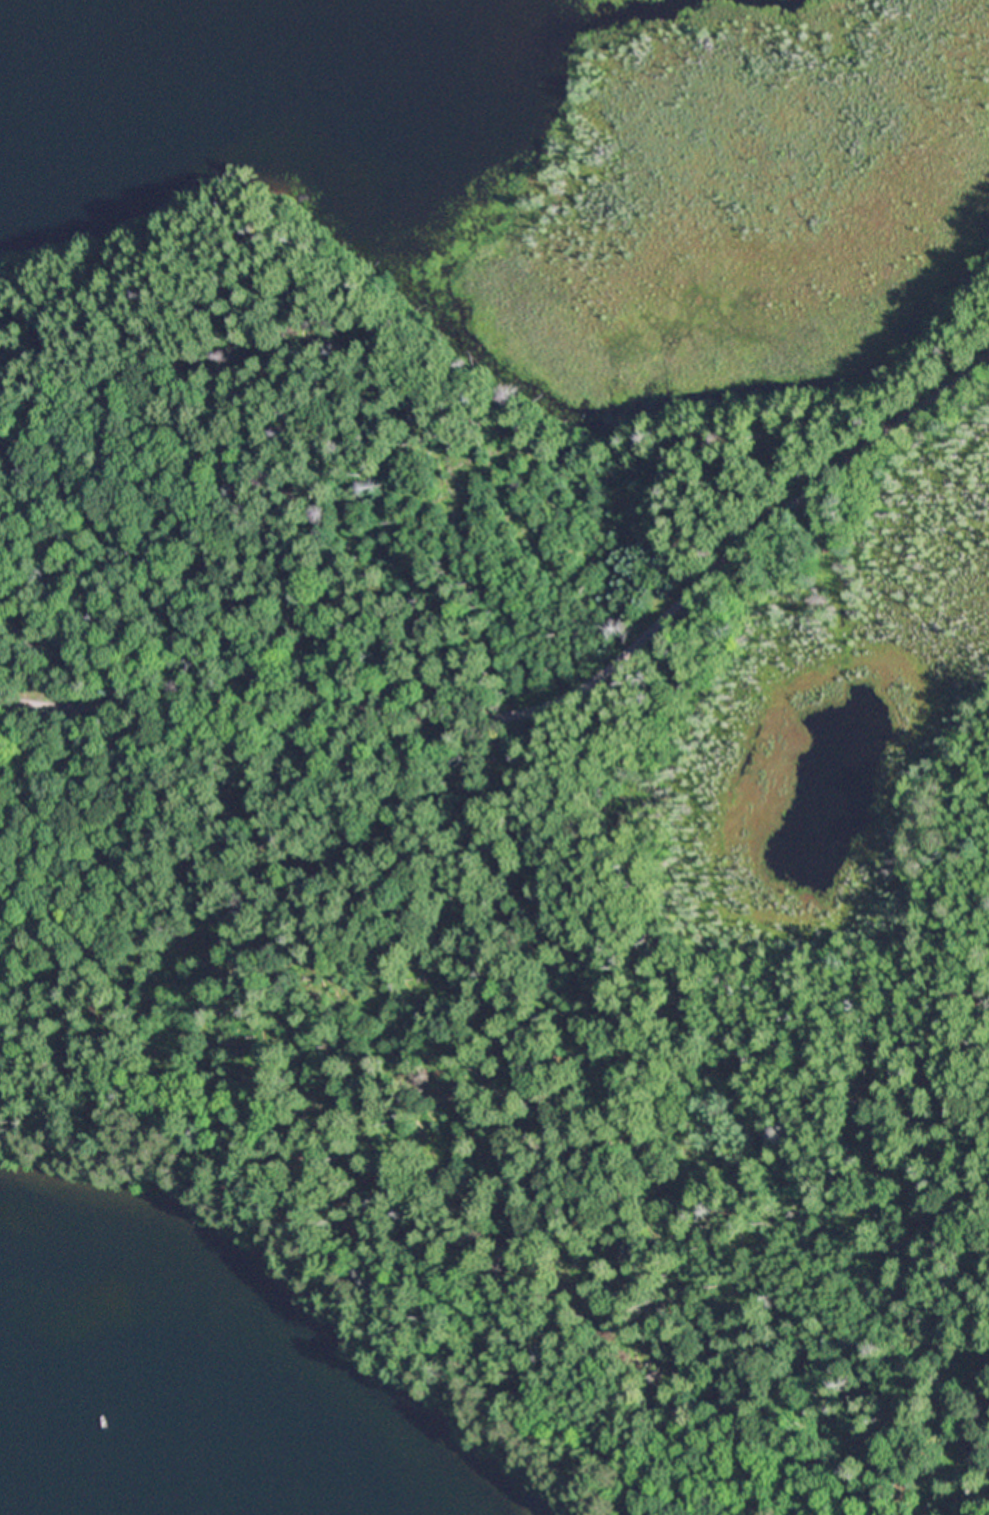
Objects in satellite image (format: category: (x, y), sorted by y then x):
road: (553, 703)

